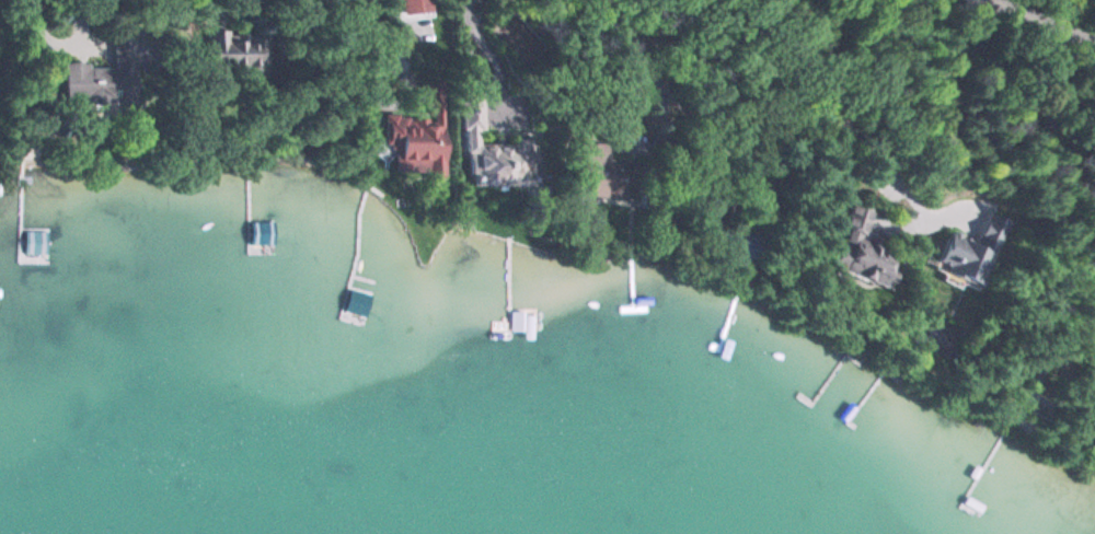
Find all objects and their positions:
building: (415, 9)
road: (1050, 19)
building: (238, 53)
road: (664, 77)
building: (99, 81)
building: (413, 142)
building: (864, 249)
building: (970, 253)

